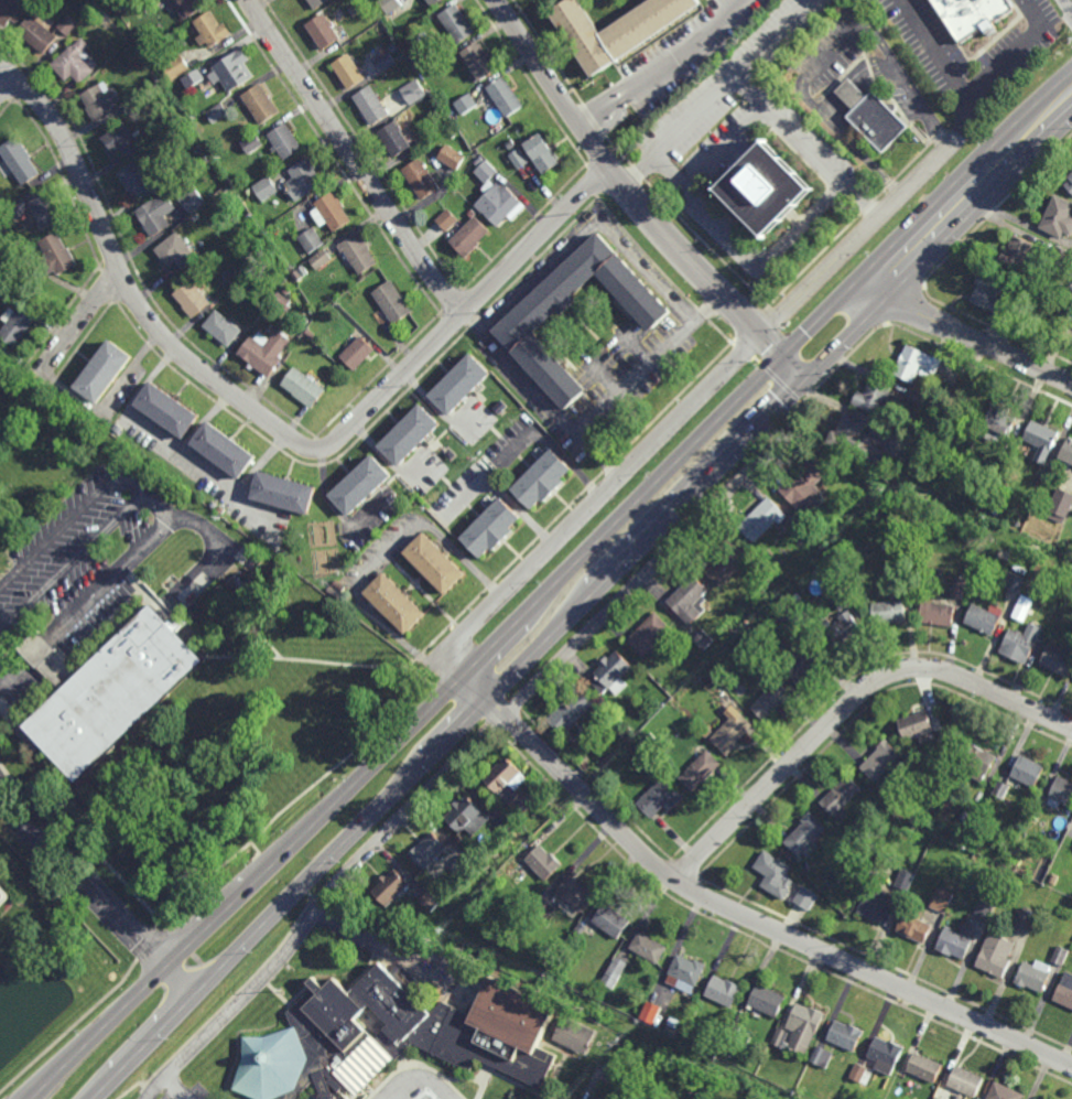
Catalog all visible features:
building: (132, 1)
building: (434, 2)
building: (318, 3)
building: (391, 6)
building: (121, 7)
building: (194, 7)
road: (1065, 7)
building: (10, 12)
building: (967, 15)
building: (457, 23)
building: (68, 24)
building: (381, 28)
building: (618, 29)
building: (214, 30)
building: (324, 32)
building: (37, 34)
building: (147, 41)
road: (832, 53)
road: (1014, 54)
building: (385, 62)
building: (480, 62)
building: (76, 63)
road: (663, 66)
road: (952, 67)
building: (177, 68)
building: (348, 71)
building: (235, 72)
building: (196, 79)
building: (158, 80)
road: (7, 83)
road: (857, 84)
building: (413, 91)
road: (719, 91)
building: (506, 97)
building: (101, 100)
building: (262, 105)
building: (467, 105)
building: (371, 106)
building: (219, 115)
building: (882, 121)
building: (453, 134)
building: (212, 137)
building: (393, 139)
building: (124, 141)
building: (286, 142)
building: (253, 143)
road: (727, 143)
building: (511, 144)
building: (201, 151)
building: (543, 154)
road: (351, 158)
building: (451, 158)
building: (520, 160)
building: (207, 162)
building: (20, 163)
building: (421, 179)
building: (139, 180)
building: (304, 180)
building: (1069, 184)
road: (626, 188)
building: (266, 191)
building: (773, 195)
building: (496, 196)
building: (247, 197)
building: (193, 202)
road: (862, 202)
building: (20, 209)
building: (45, 213)
building: (333, 213)
building: (470, 213)
road: (927, 213)
building: (158, 216)
building: (1058, 216)
building: (195, 218)
building: (446, 220)
road: (803, 227)
building: (1, 230)
building: (468, 236)
road: (580, 236)
road: (857, 238)
building: (313, 241)
building: (358, 252)
building: (1018, 252)
building: (176, 254)
building: (1061, 255)
building: (57, 257)
building: (322, 259)
building: (210, 266)
building: (301, 272)
building: (285, 288)
building: (338, 290)
building: (989, 293)
building: (1046, 295)
building: (193, 298)
building: (282, 299)
building: (262, 300)
building: (392, 301)
building: (284, 316)
building: (1071, 317)
building: (526, 319)
building: (301, 320)
road: (79, 322)
building: (15, 323)
building: (329, 325)
building: (223, 326)
building: (308, 332)
road: (965, 336)
building: (304, 342)
building: (264, 349)
building: (357, 352)
traffic signals: (783, 356)
building: (916, 362)
road: (649, 363)
road: (795, 367)
building: (105, 368)
traffic signals: (809, 379)
building: (461, 381)
building: (303, 385)
building: (877, 397)
building: (917, 397)
building: (169, 406)
road: (780, 407)
road: (559, 416)
building: (998, 421)
road: (269, 423)
building: (120, 430)
building: (410, 432)
building: (1041, 439)
building: (870, 441)
road: (551, 445)
building: (225, 446)
building: (1066, 451)
building: (541, 480)
building: (1039, 480)
building: (361, 483)
building: (804, 484)
building: (284, 491)
road: (500, 491)
road: (589, 504)
building: (896, 504)
building: (1060, 505)
building: (220, 509)
road: (80, 510)
road: (624, 516)
building: (761, 518)
building: (492, 528)
building: (1039, 530)
building: (823, 534)
road: (216, 550)
building: (726, 561)
building: (435, 562)
road: (74, 568)
road: (645, 573)
building: (898, 577)
building: (1014, 583)
building: (337, 585)
building: (959, 586)
building: (332, 592)
road: (85, 596)
building: (689, 599)
building: (842, 599)
building: (396, 603)
building: (1020, 611)
building: (888, 612)
building: (938, 612)
building: (982, 618)
building: (788, 619)
building: (844, 627)
building: (649, 634)
building: (256, 636)
building: (702, 639)
building: (1020, 643)
building: (1058, 659)
building: (802, 661)
building: (613, 672)
road: (477, 687)
building: (110, 689)
building: (770, 700)
road: (847, 704)
road: (497, 708)
building: (571, 710)
building: (916, 723)
building: (705, 732)
building: (732, 732)
building: (624, 733)
building: (650, 737)
building: (881, 761)
building: (977, 761)
building: (700, 769)
building: (1028, 771)
building: (506, 779)
building: (953, 780)
building: (1000, 789)
building: (1059, 795)
building: (841, 796)
building: (658, 798)
road: (420, 801)
building: (1036, 811)
building: (467, 816)
building: (913, 820)
building: (805, 833)
building: (459, 839)
building: (427, 850)
building: (543, 861)
building: (805, 866)
building: (467, 868)
building: (775, 874)
building: (1052, 879)
building: (905, 880)
road: (250, 887)
building: (391, 887)
road: (97, 891)
building: (576, 892)
road: (290, 897)
building: (806, 898)
building: (942, 899)
building: (4, 901)
building: (429, 901)
building: (877, 904)
building: (543, 907)
building: (983, 912)
building: (1025, 919)
building: (611, 920)
building: (581, 926)
road: (765, 926)
building: (916, 928)
building: (492, 939)
building: (954, 944)
building: (649, 947)
building: (995, 956)
building: (1060, 956)
building: (686, 970)
building: (615, 973)
building: (1033, 976)
building: (723, 989)
building: (1064, 990)
road: (246, 994)
building: (768, 998)
building: (693, 1012)
building: (651, 1013)
building: (674, 1024)
building: (805, 1025)
building: (734, 1032)
building: (846, 1033)
building: (780, 1035)
building: (419, 1043)
building: (728, 1046)
building: (822, 1054)
building: (885, 1054)
building: (925, 1066)
building: (862, 1073)
road: (413, 1078)
building: (966, 1080)
road: (175, 1089)
building: (1005, 1091)
building: (693, 1092)
road: (398, 1093)
building: (596, 1096)
building: (327, 1097)
building: (939, 1097)
building: (1036, 1098)

